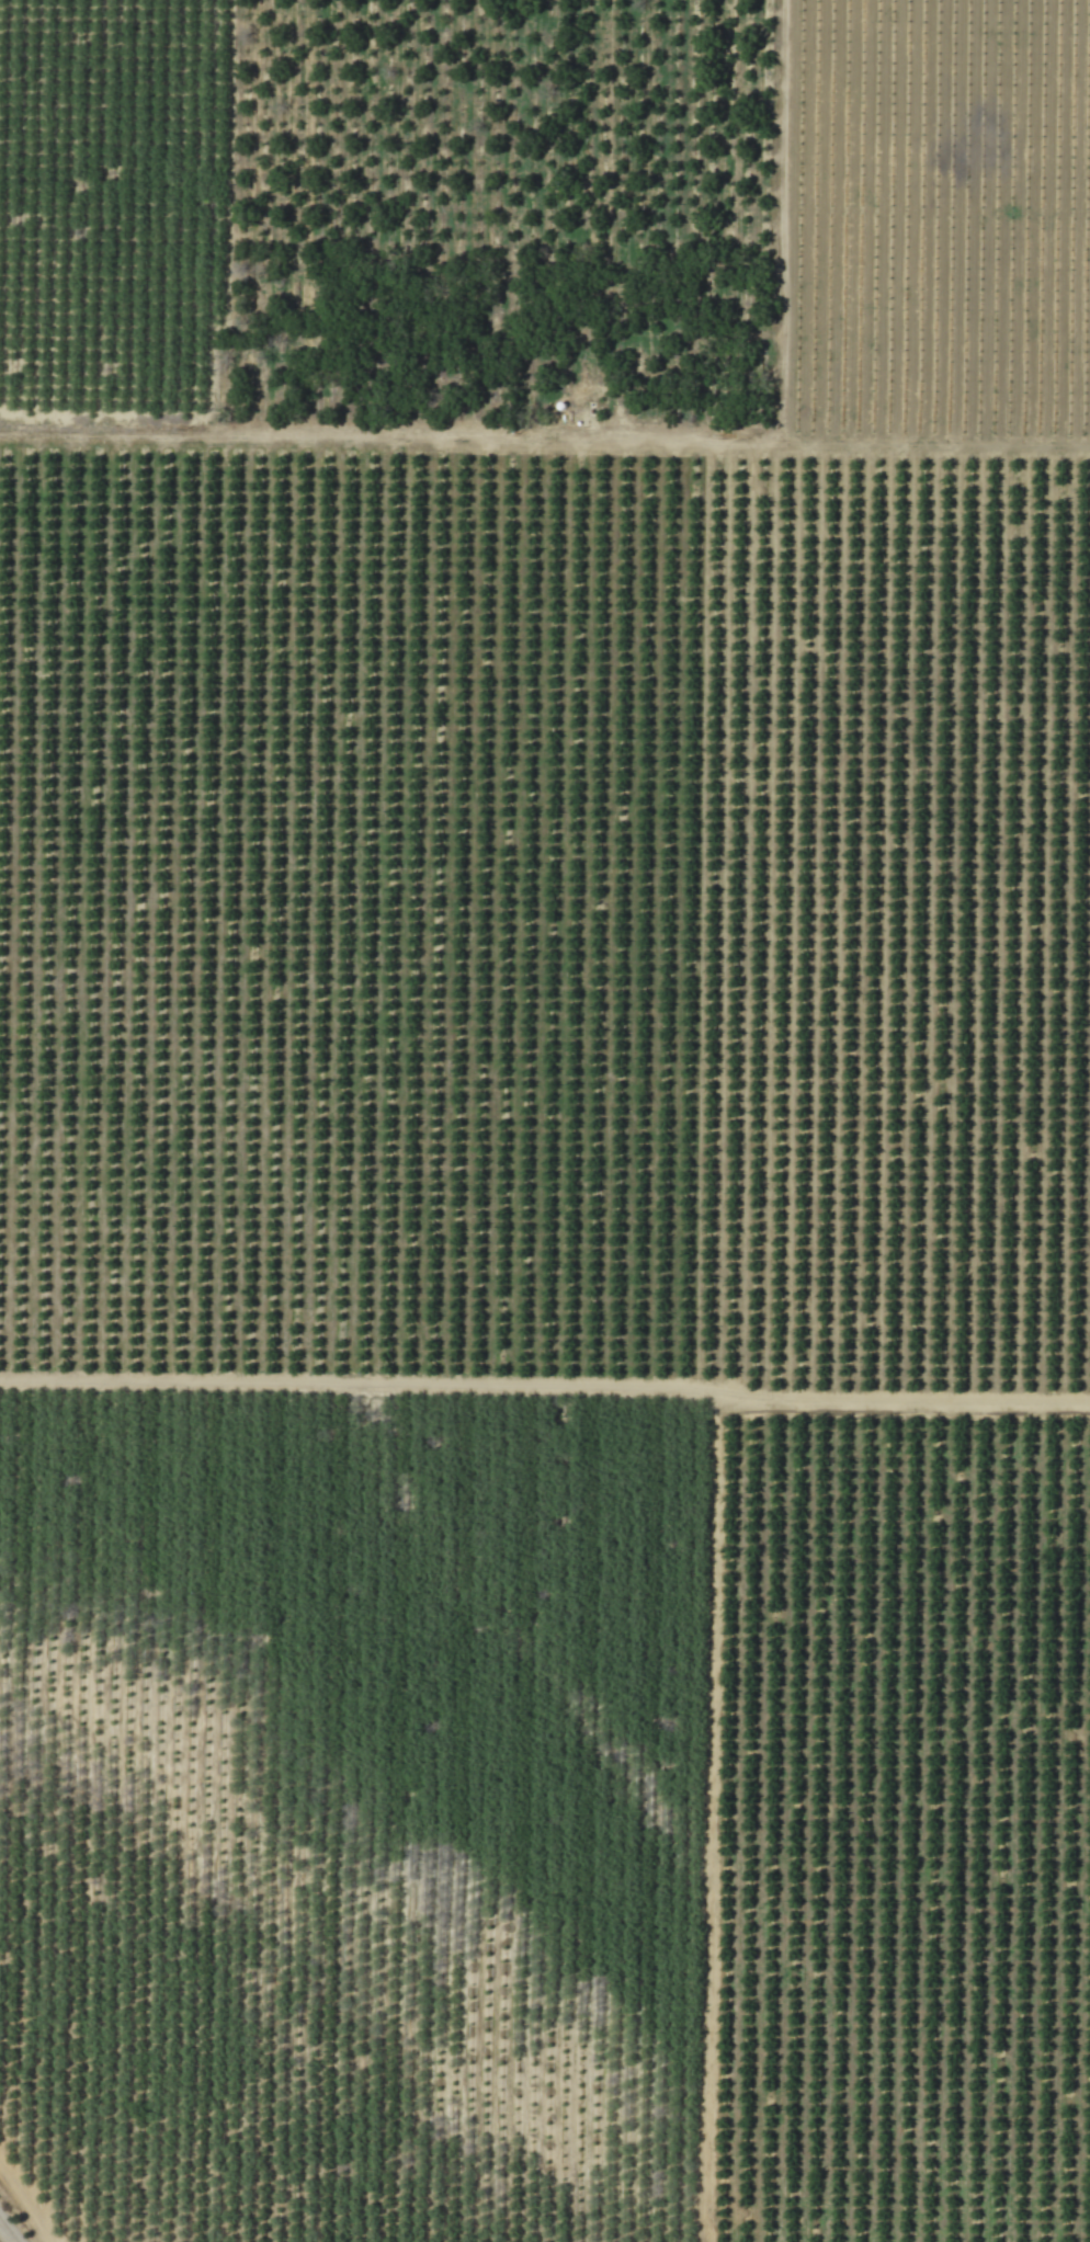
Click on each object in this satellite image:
road: (7, 2233)

